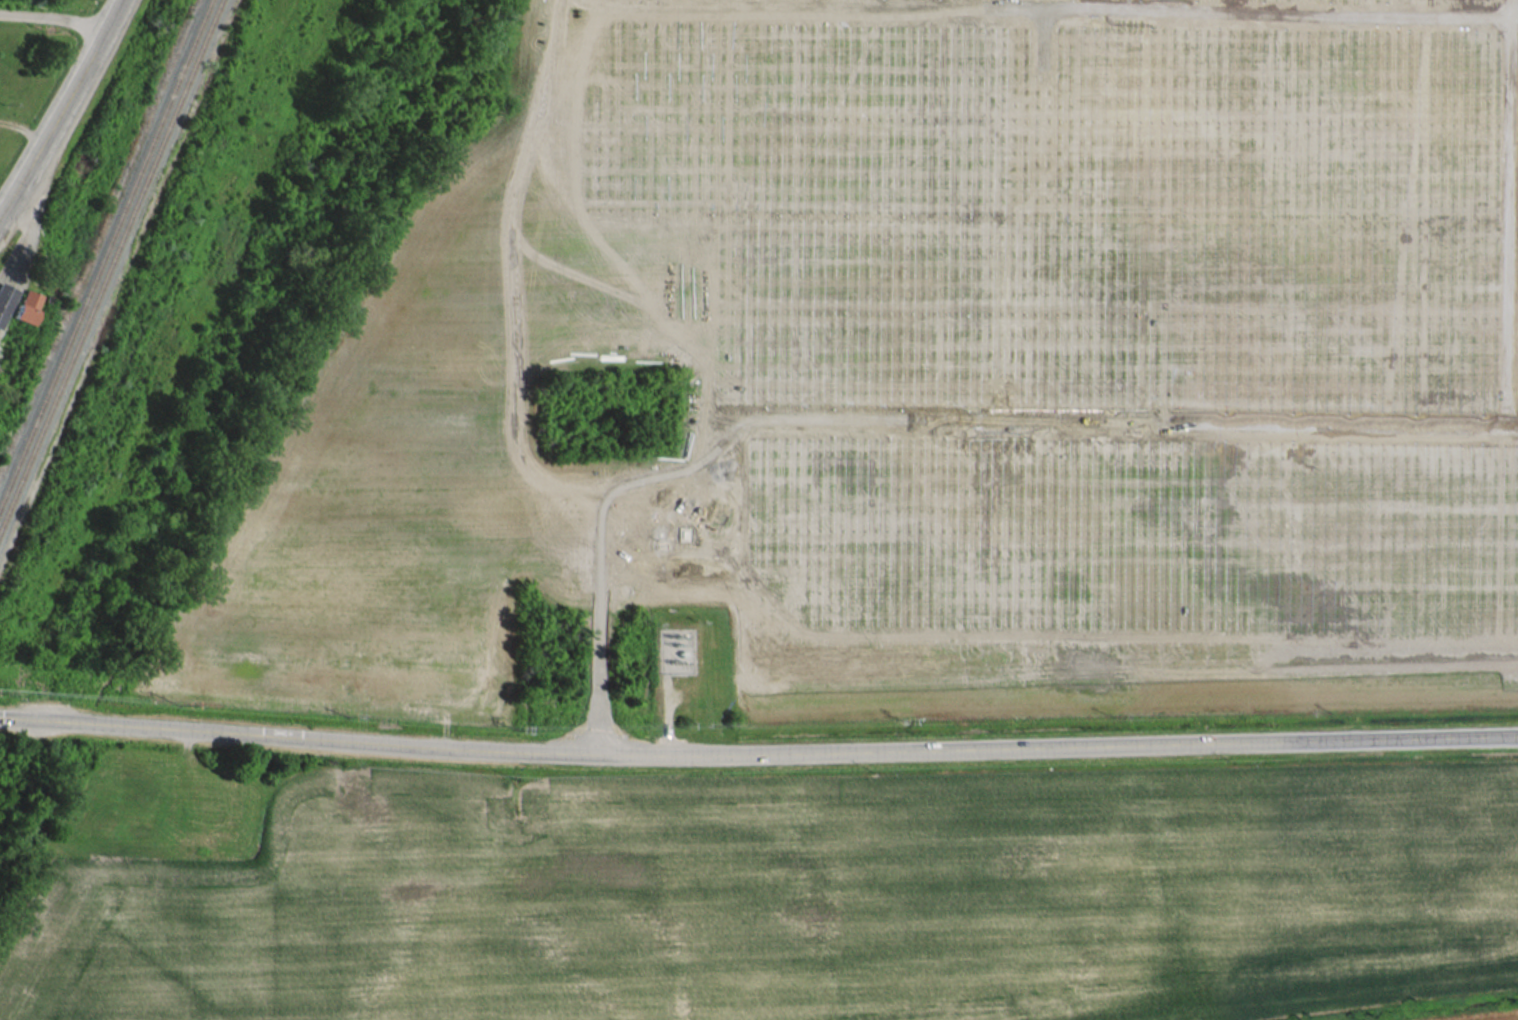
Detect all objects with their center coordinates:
road: (115, 11)
road: (55, 17)
road: (56, 122)
road: (24, 128)
railway: (105, 251)
railway: (110, 263)
building: (6, 300)
building: (27, 307)
road: (758, 749)

